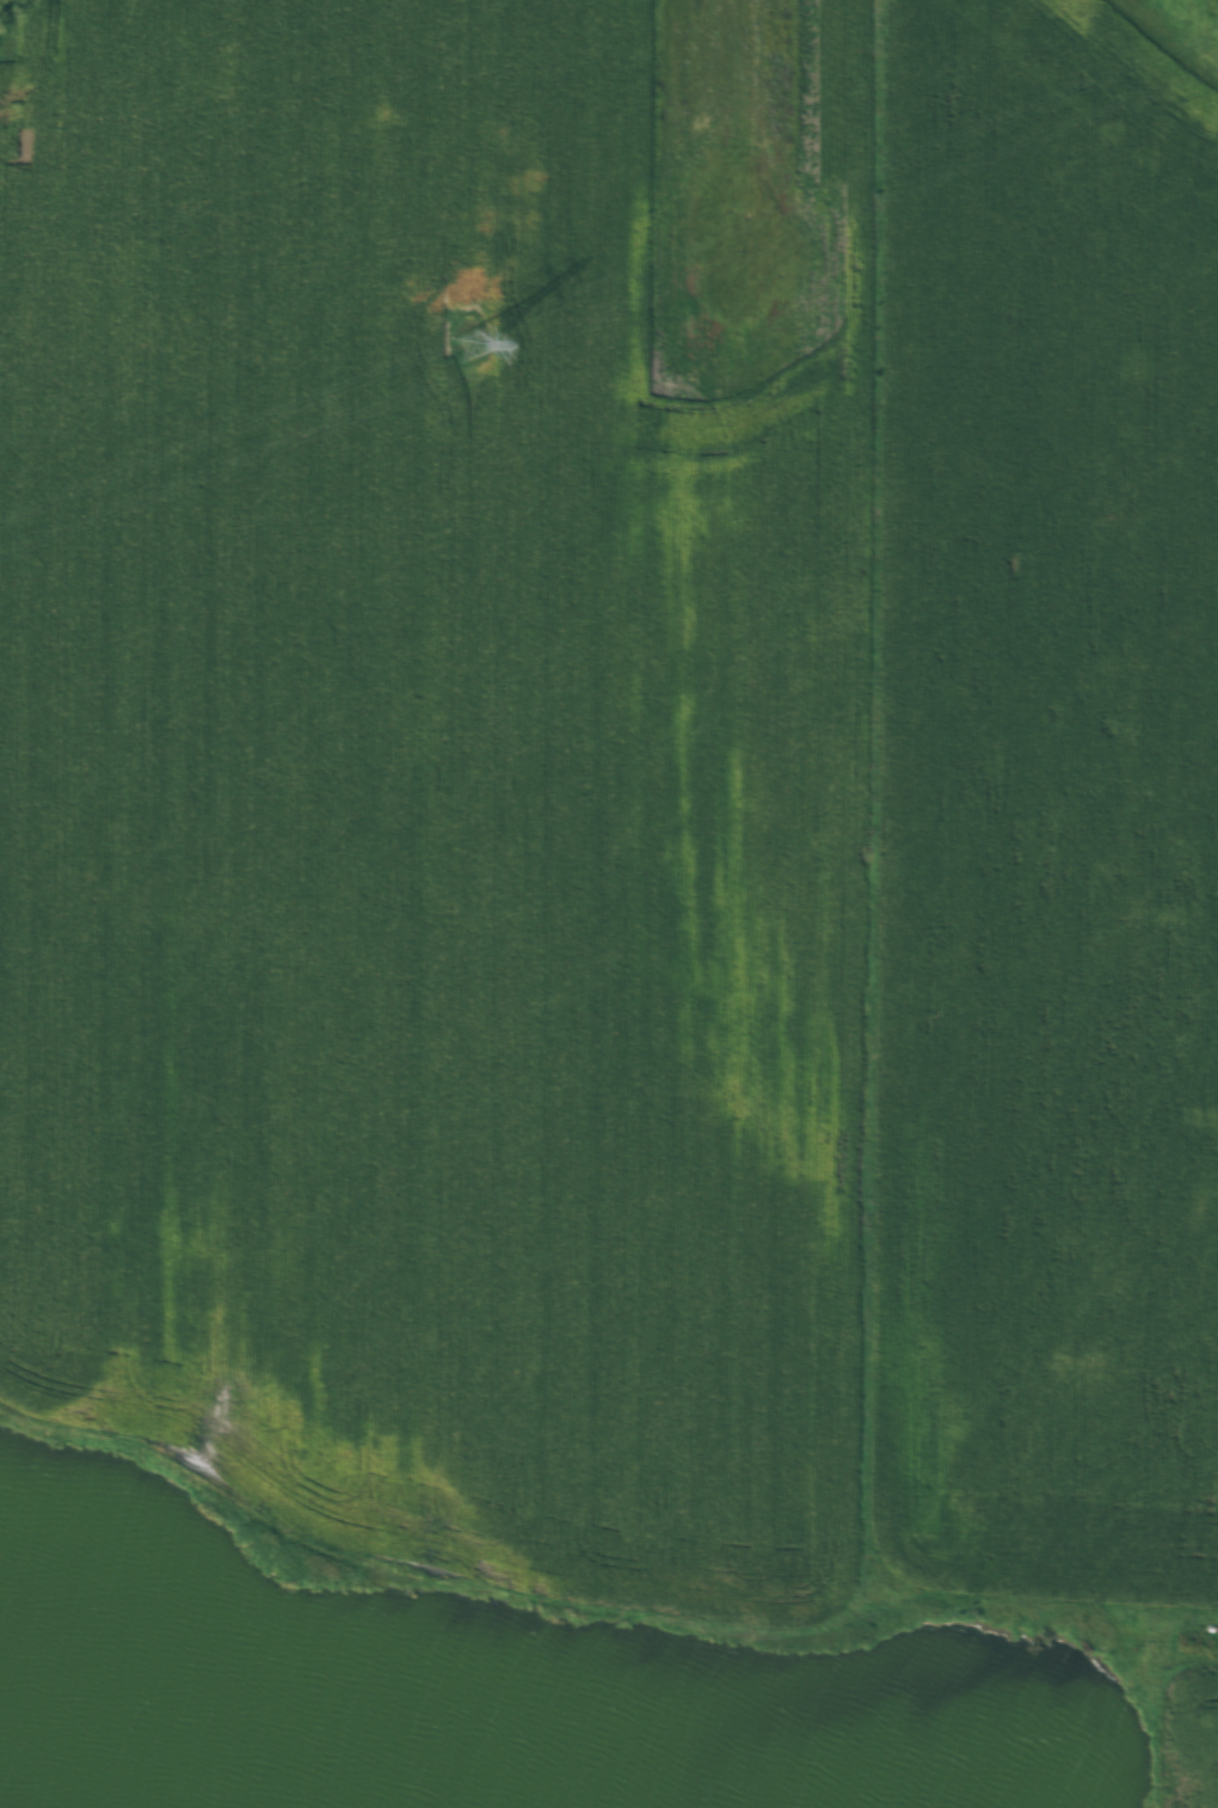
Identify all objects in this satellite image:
power tower: (469, 344)

